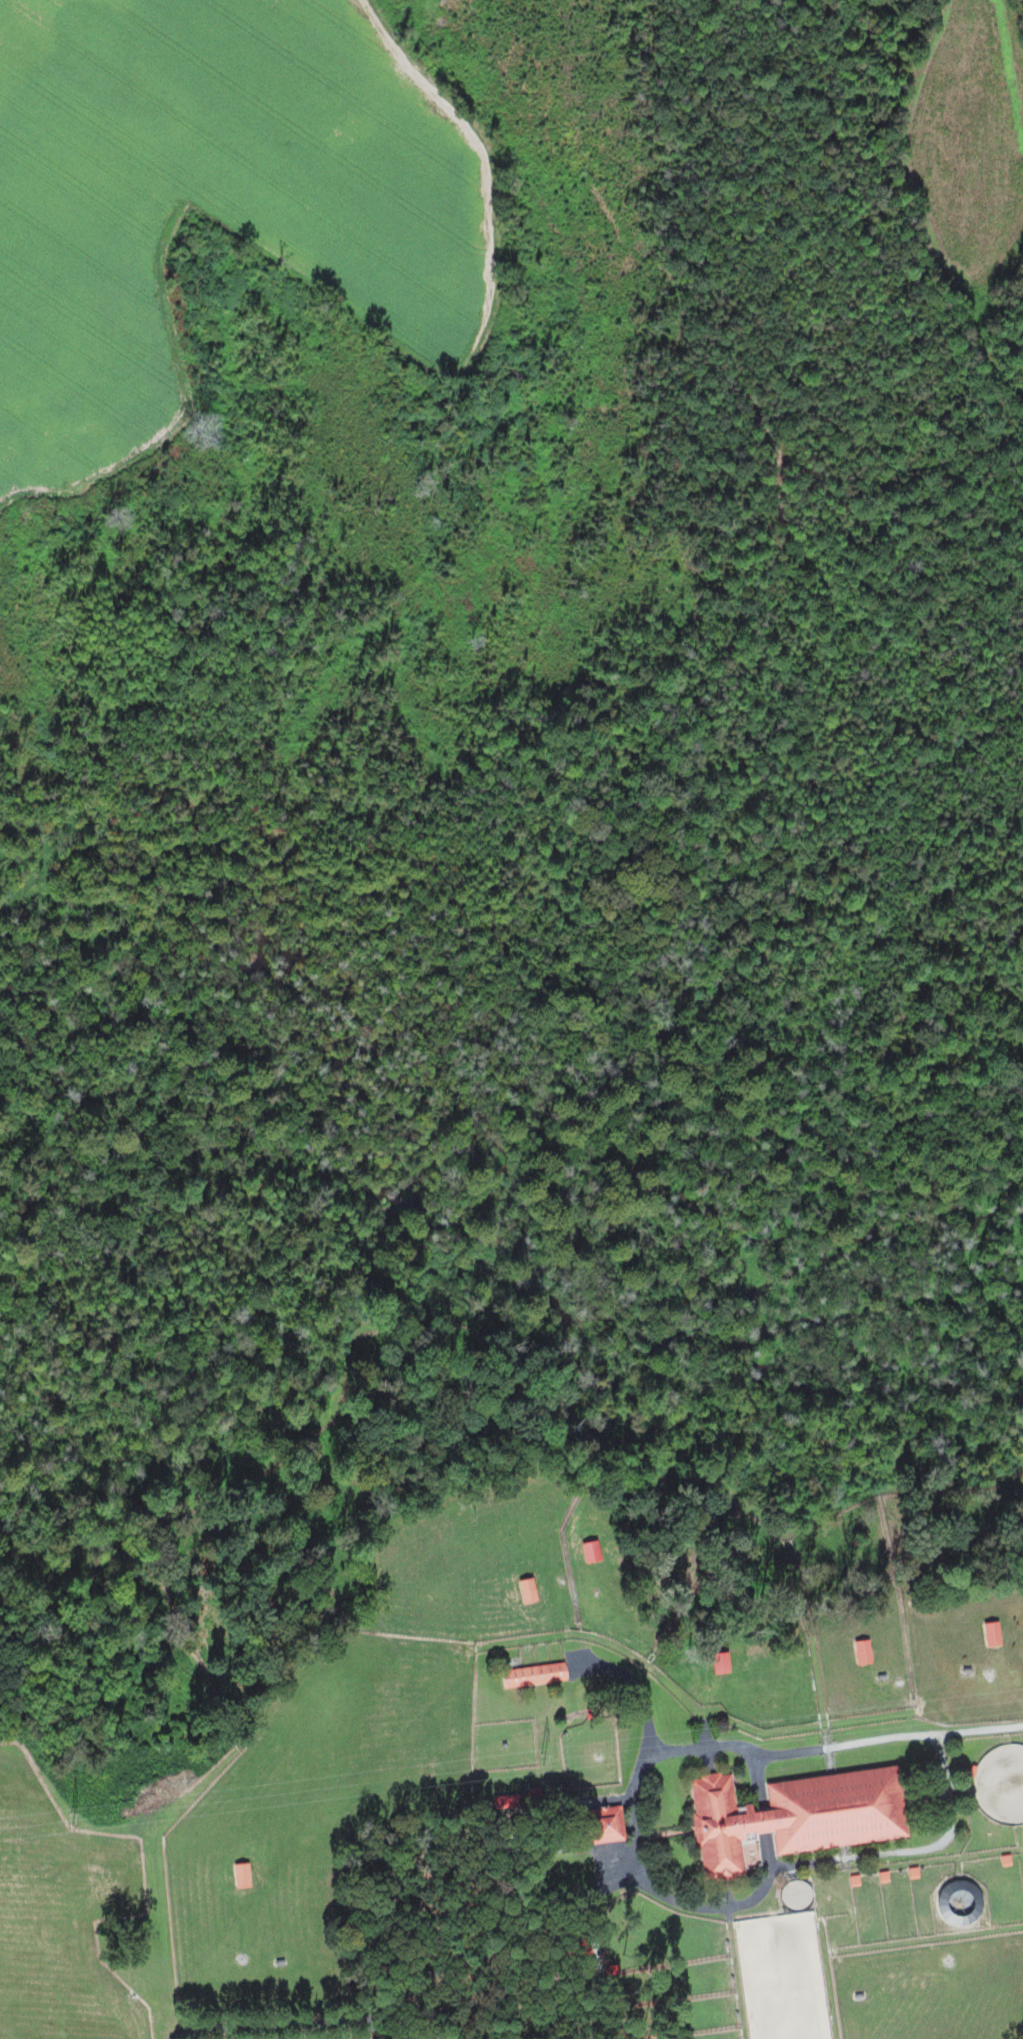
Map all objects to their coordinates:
building: (593, 1552)
building: (530, 1591)
building: (994, 1635)
building: (865, 1653)
building: (536, 1675)
power tower: (541, 1759)
building: (800, 1816)
power tower: (73, 1821)
building: (608, 1825)
building: (752, 1855)
building: (243, 1876)

